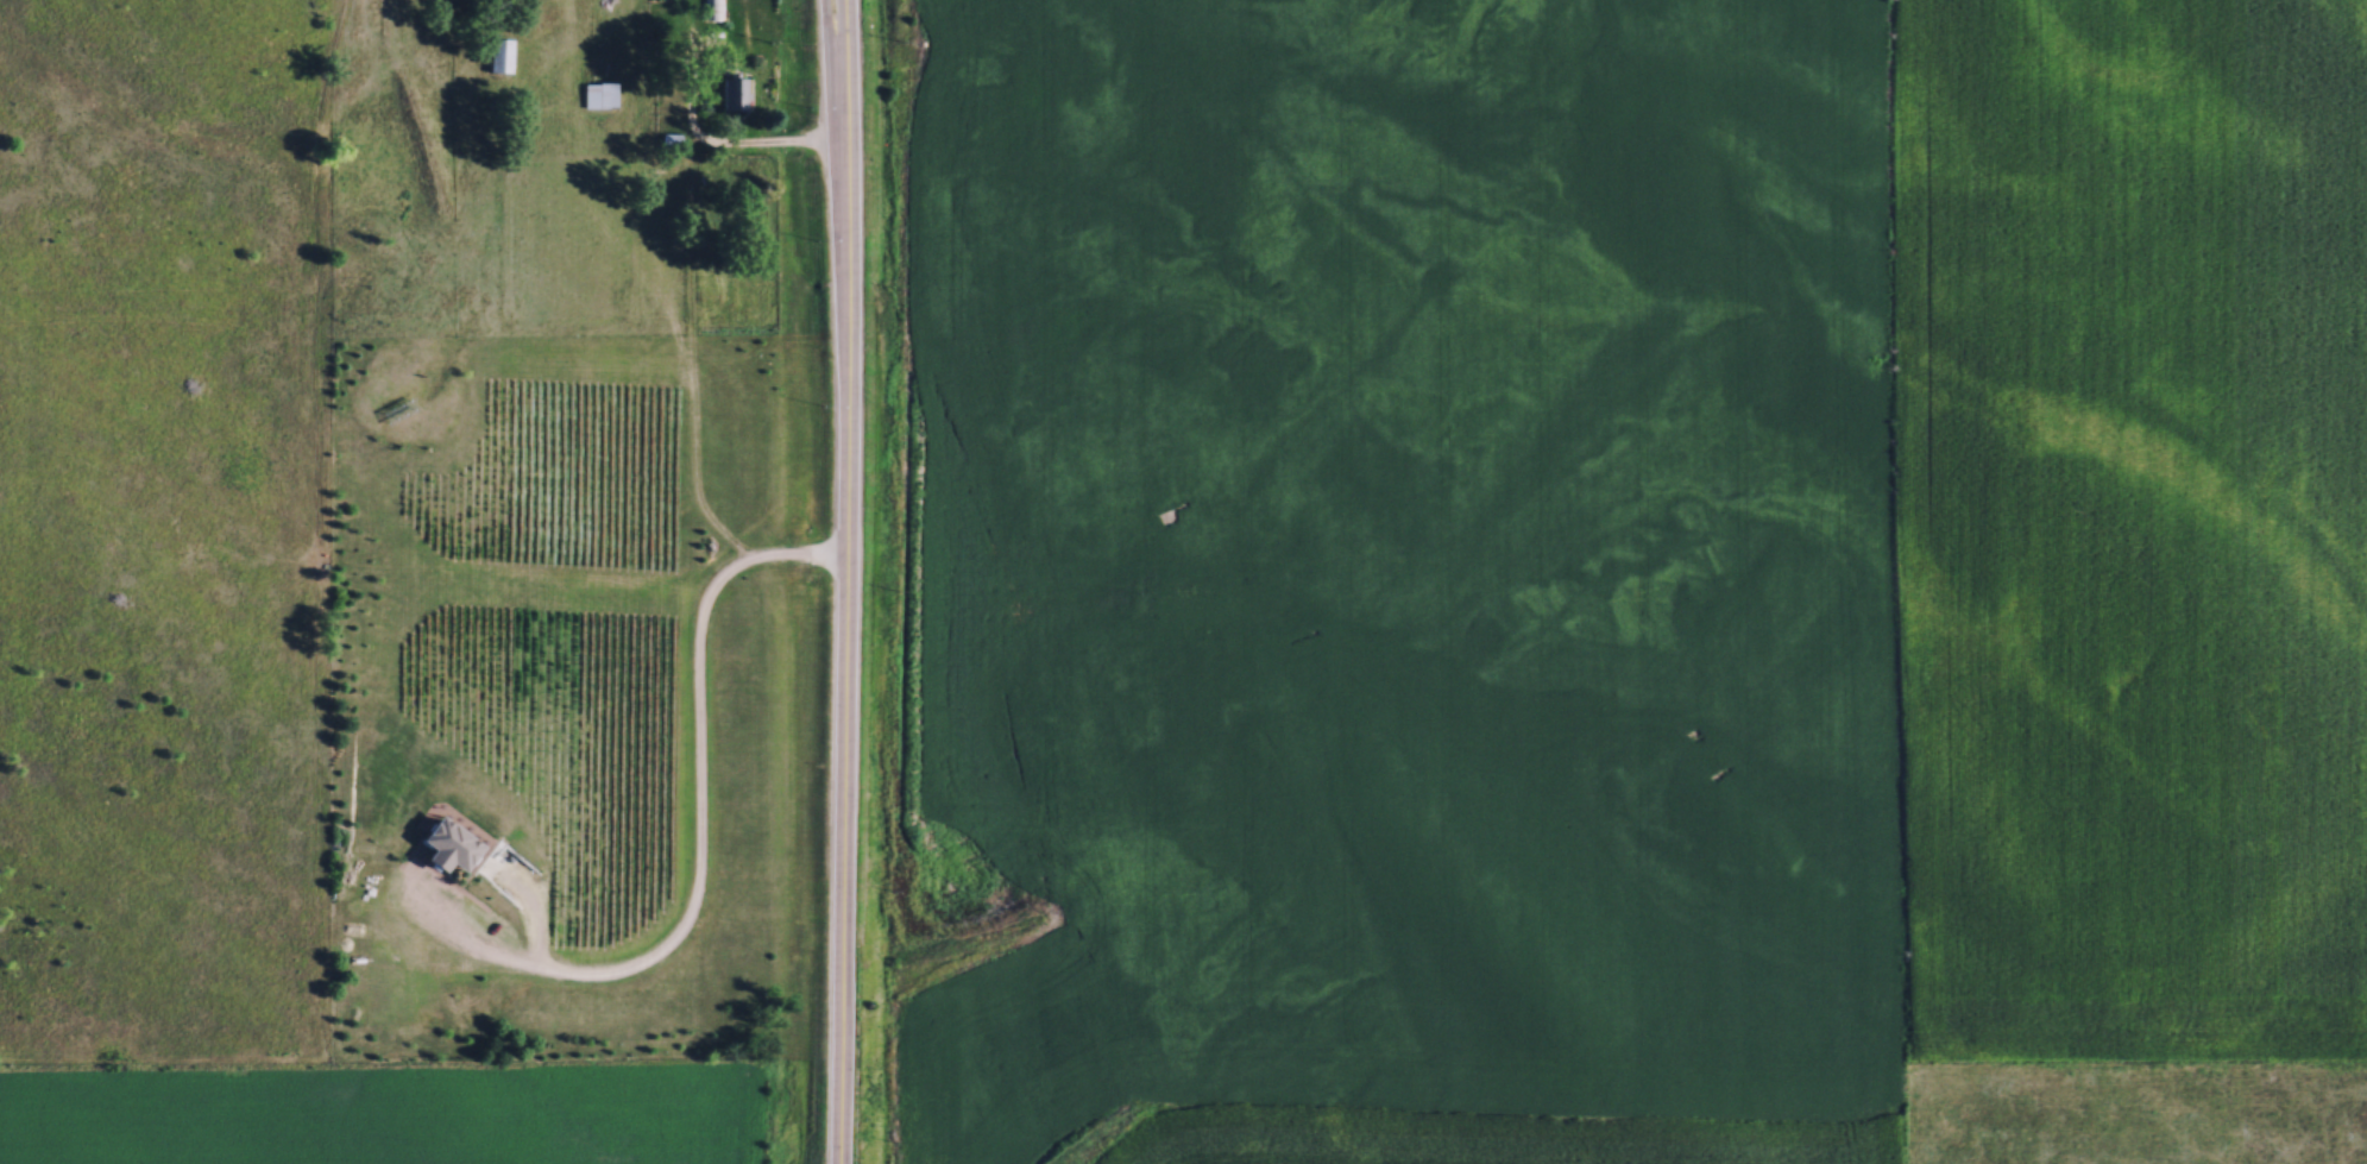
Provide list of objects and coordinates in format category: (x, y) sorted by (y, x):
building: (713, 10)
road: (836, 32)
building: (497, 55)
building: (732, 93)
building: (596, 95)
road: (747, 149)
road: (848, 581)

